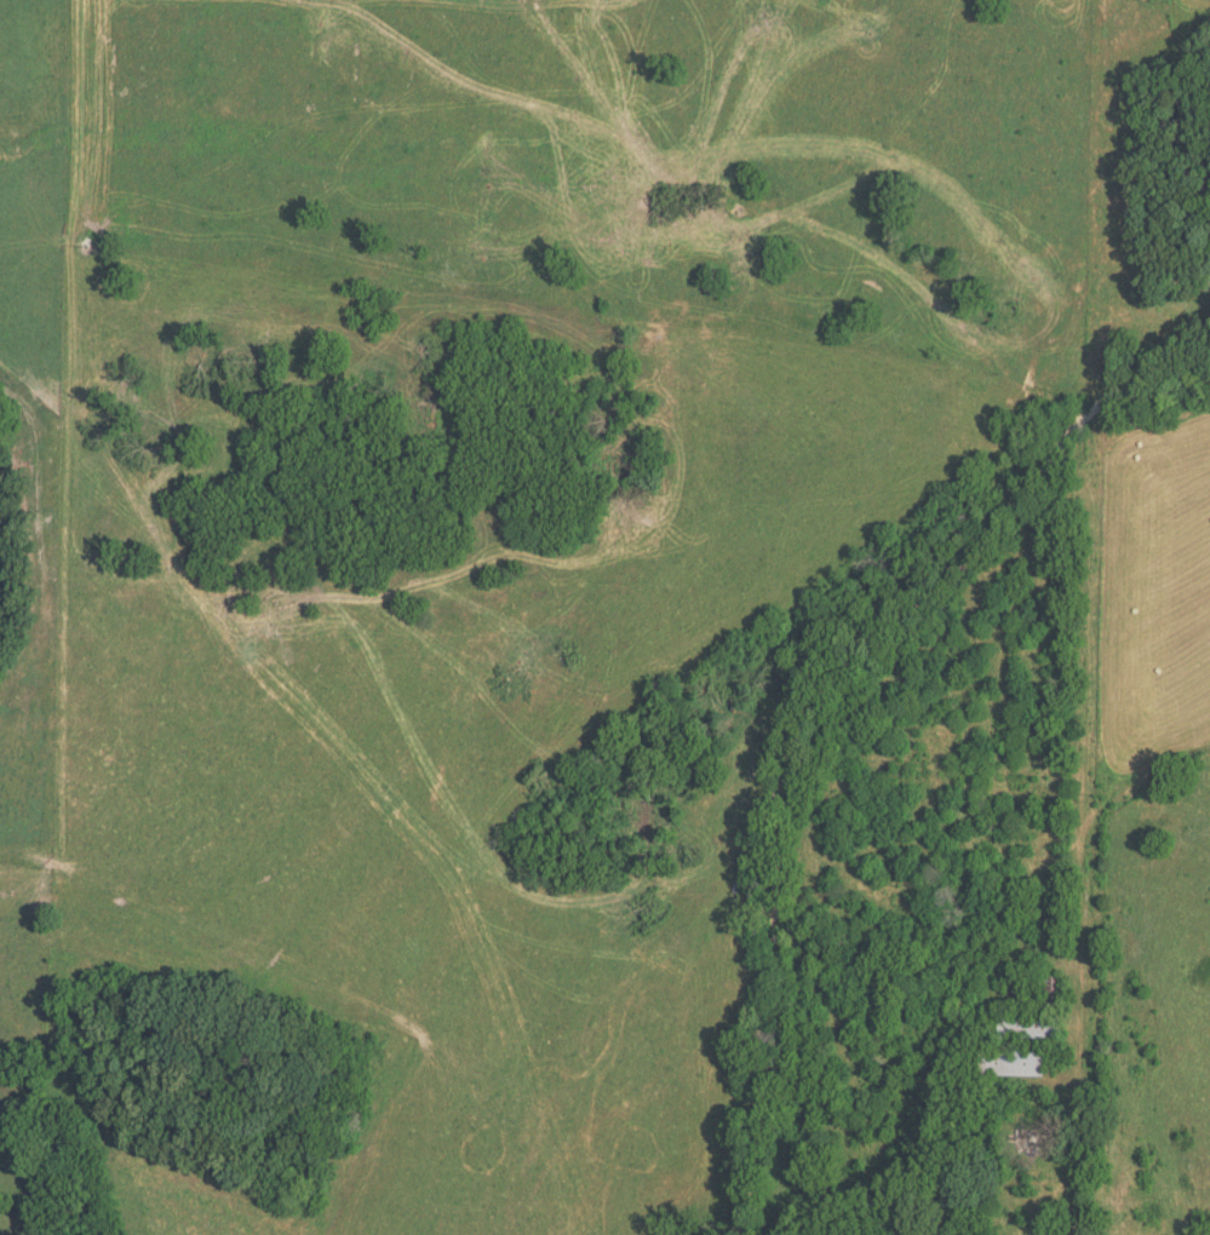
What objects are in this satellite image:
building: (1051, 994)
building: (1028, 1027)
building: (1013, 1063)

